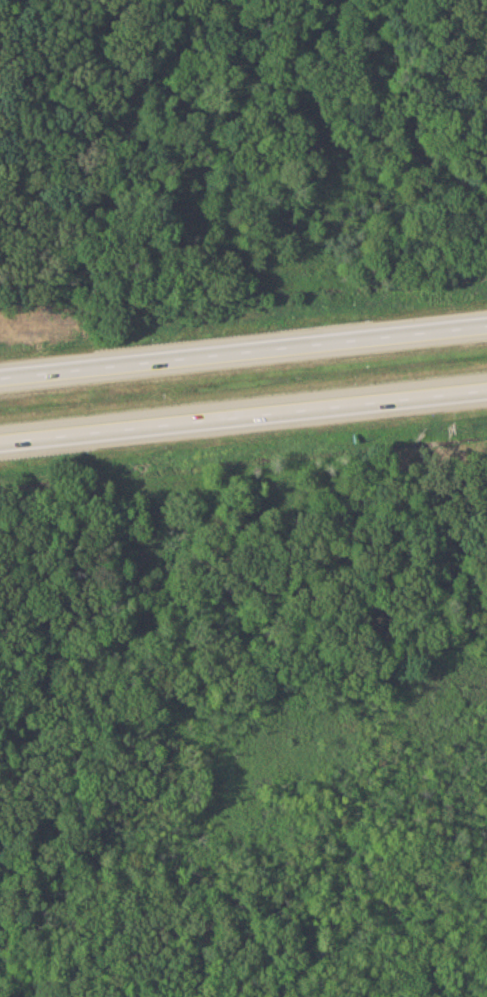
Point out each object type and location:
road: (243, 352)
road: (243, 415)

